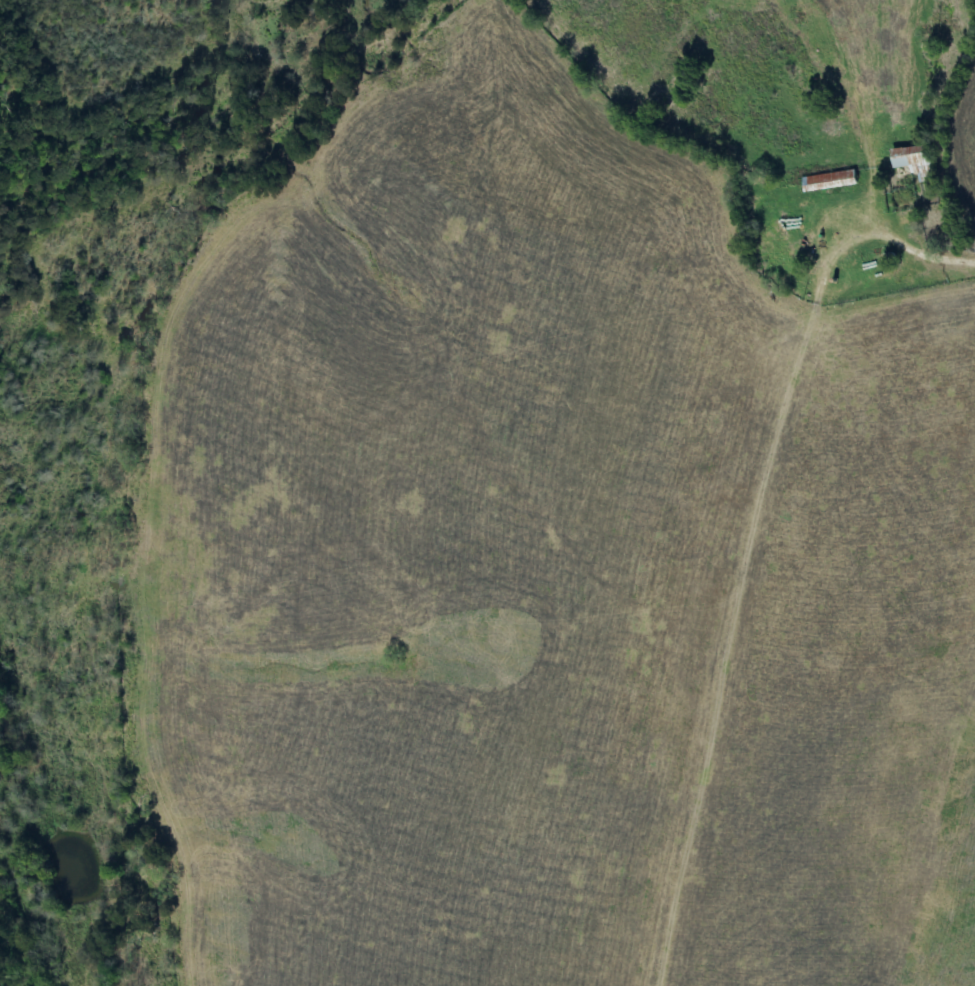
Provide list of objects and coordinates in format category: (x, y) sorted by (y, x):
road: (862, 118)
building: (830, 181)
road: (701, 541)

